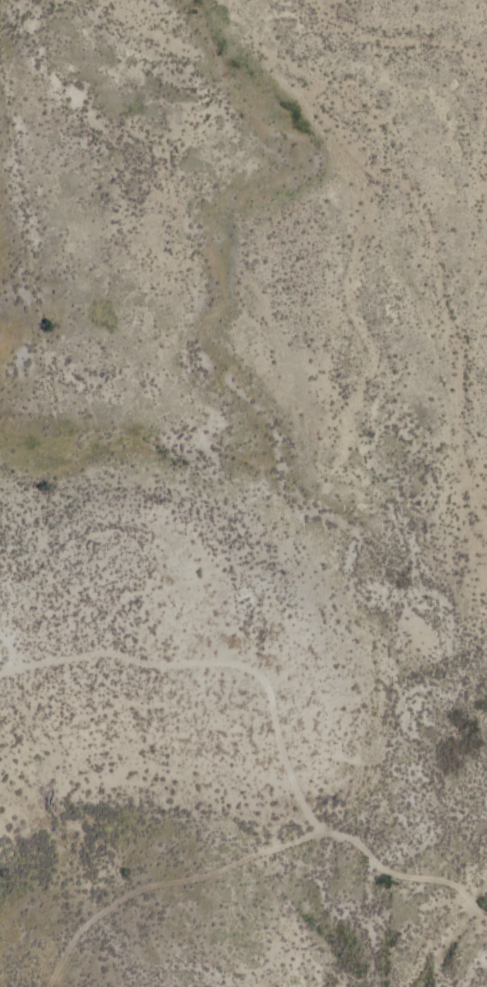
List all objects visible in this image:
road: (7, 655)
road: (277, 713)
road: (171, 881)

